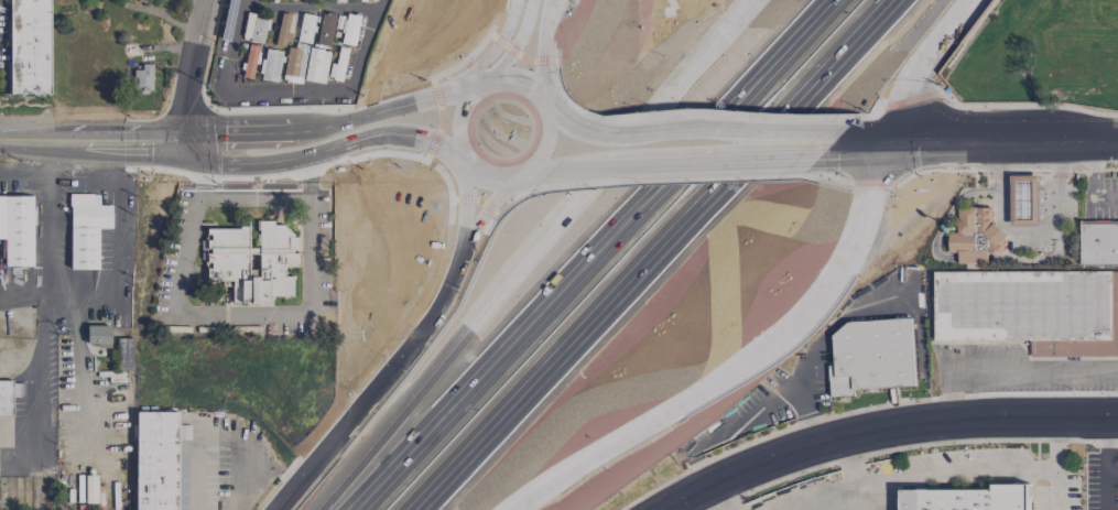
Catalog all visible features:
building: (293, 0)
building: (311, 0)
building: (361, 0)
road: (241, 1)
road: (377, 6)
road: (942, 25)
building: (254, 29)
building: (305, 29)
building: (346, 29)
building: (283, 31)
building: (324, 31)
building: (29, 47)
road: (506, 48)
road: (535, 52)
building: (249, 62)
building: (293, 64)
road: (192, 66)
building: (270, 66)
building: (315, 66)
building: (339, 67)
building: (142, 79)
road: (350, 90)
road: (902, 95)
road: (459, 112)
road: (328, 126)
road: (1000, 128)
road: (94, 131)
road: (603, 137)
road: (189, 140)
road: (860, 140)
road: (747, 144)
road: (118, 147)
road: (338, 150)
road: (1000, 151)
road: (196, 155)
road: (100, 160)
road: (593, 162)
road: (199, 181)
road: (252, 197)
building: (1024, 199)
building: (17, 230)
building: (86, 230)
building: (976, 237)
building: (1098, 241)
road: (525, 252)
road: (649, 253)
road: (594, 254)
building: (251, 261)
road: (837, 261)
road: (464, 269)
road: (77, 303)
road: (254, 311)
building: (1030, 311)
building: (97, 336)
building: (124, 354)
building: (871, 356)
road: (1034, 370)
road: (80, 377)
road: (39, 382)
road: (952, 397)
building: (6, 399)
road: (338, 426)
road: (883, 430)
road: (628, 432)
building: (183, 433)
building: (156, 462)
road: (992, 465)
road: (1061, 465)
road: (1107, 465)
parking lot: (1003, 466)
road: (1112, 474)
building: (90, 489)
building: (969, 498)

